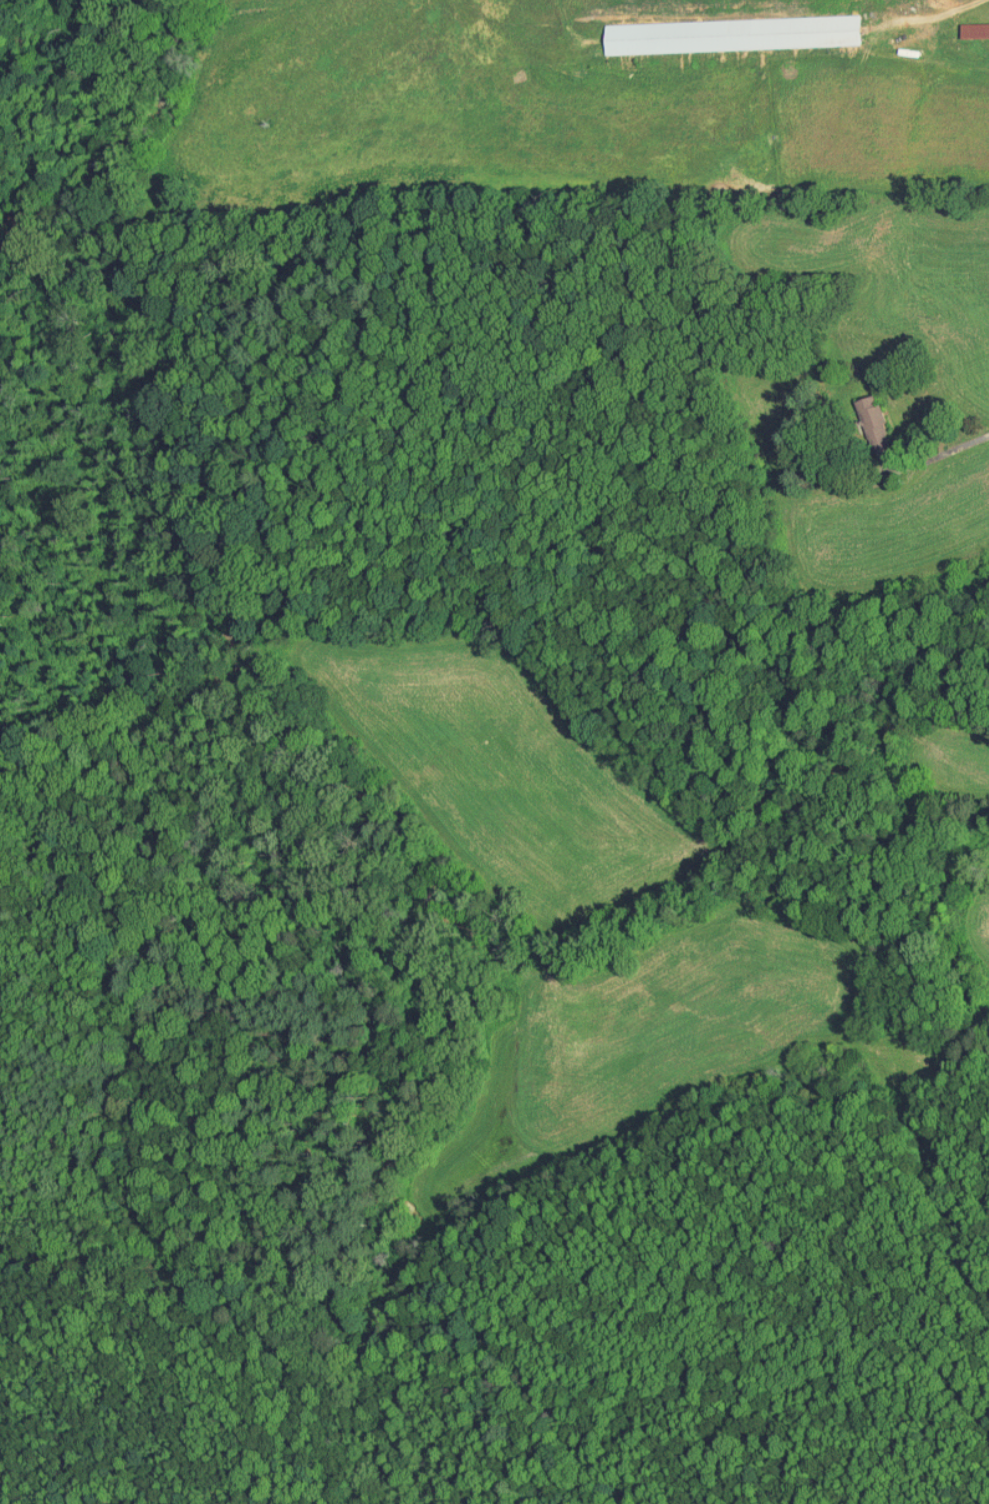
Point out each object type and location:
road: (929, 16)
building: (972, 25)
building: (727, 28)
building: (867, 410)
road: (950, 450)

